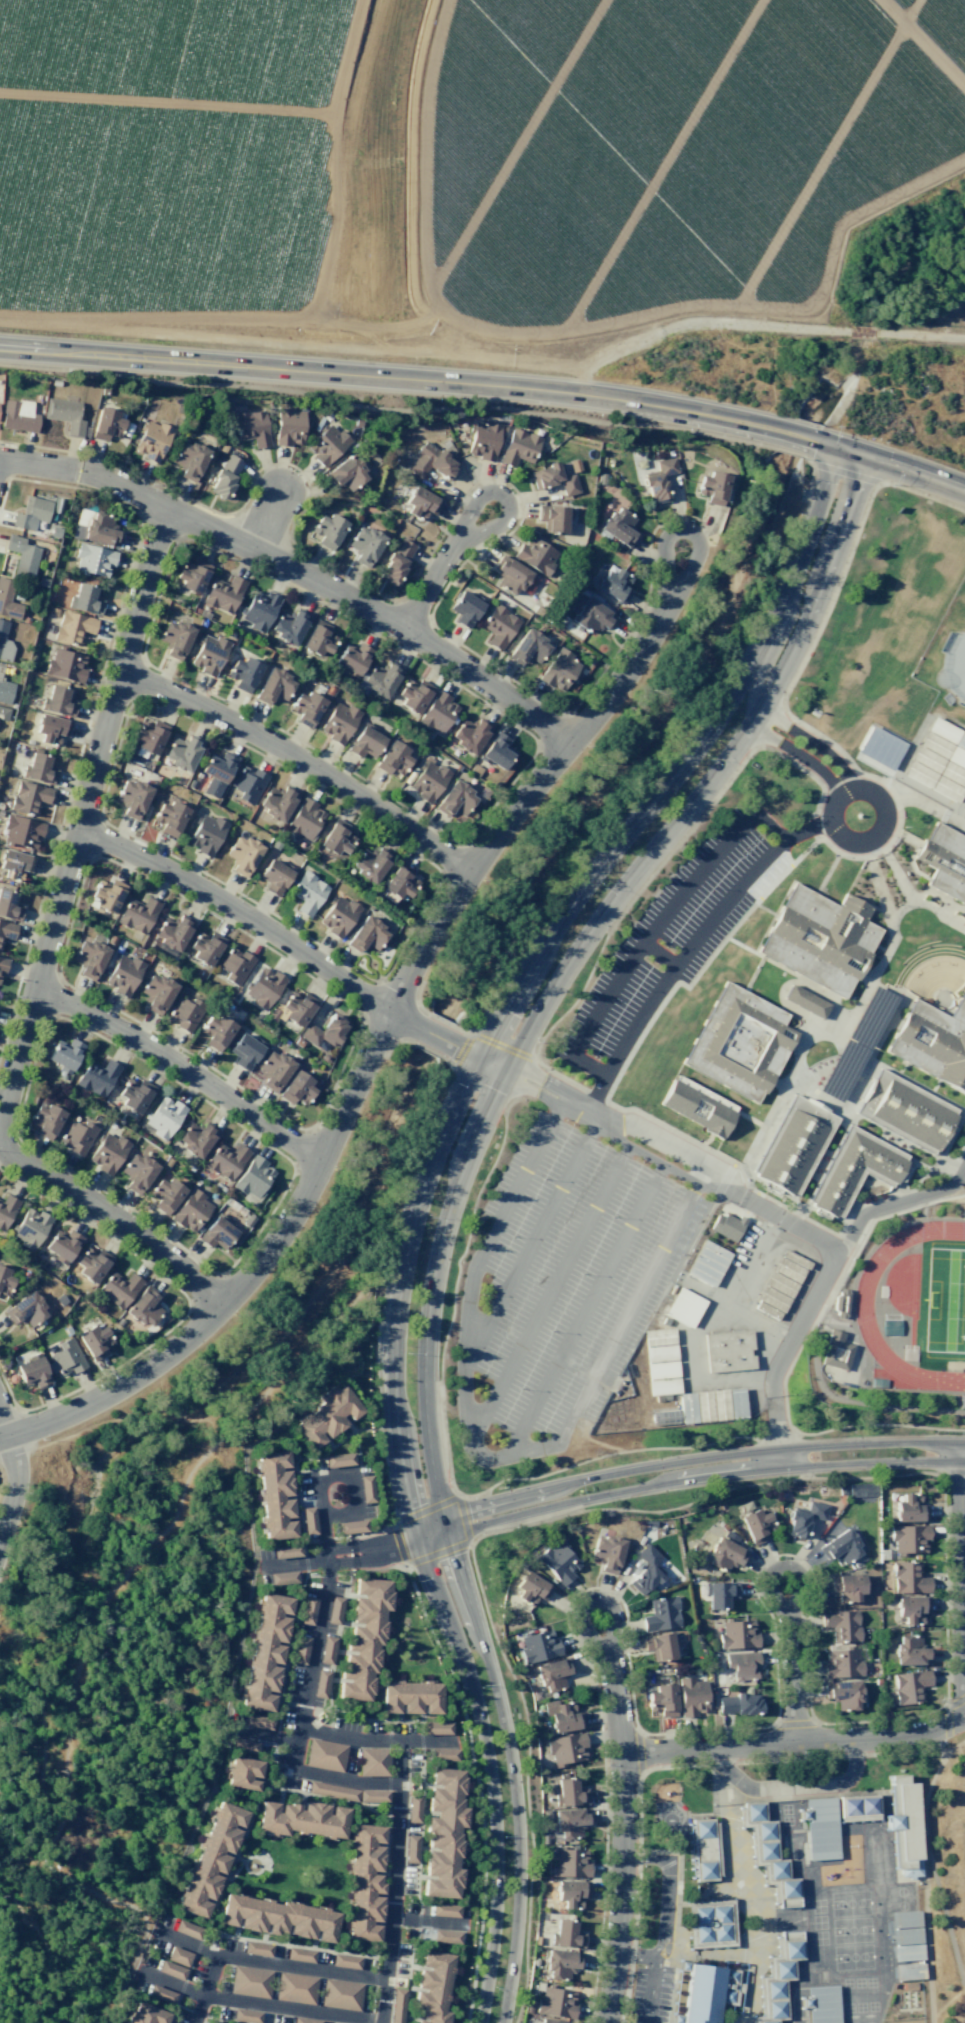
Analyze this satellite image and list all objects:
crop: (669, 153)
crop: (164, 161)
crop: (961, 319)
road: (488, 384)
building: (65, 415)
building: (18, 416)
building: (106, 424)
building: (288, 426)
building: (251, 427)
building: (151, 440)
building: (484, 440)
building: (326, 444)
building: (518, 447)
traffic signals: (854, 453)
building: (189, 459)
road: (36, 462)
building: (431, 462)
building: (346, 473)
building: (224, 477)
building: (553, 479)
building: (659, 480)
building: (713, 487)
building: (421, 504)
building: (31, 513)
building: (552, 518)
road: (267, 519)
building: (80, 524)
building: (619, 526)
building: (100, 529)
building: (328, 530)
building: (364, 545)
road: (849, 551)
building: (22, 555)
building: (536, 555)
building: (93, 560)
building: (396, 561)
road: (444, 563)
building: (510, 575)
building: (192, 576)
building: (614, 584)
road: (334, 590)
building: (223, 594)
building: (86, 599)
building: (8, 600)
building: (464, 609)
building: (259, 610)
building: (591, 616)
building: (289, 626)
building: (499, 626)
building: (73, 627)
building: (174, 638)
building: (318, 639)
building: (4, 643)
building: (528, 648)
building: (208, 654)
building: (352, 659)
park: (951, 659)
building: (65, 665)
building: (0, 670)
building: (558, 670)
building: (243, 673)
building: (380, 679)
building: (273, 686)
building: (5, 691)
building: (413, 695)
building: (58, 701)
building: (306, 708)
building: (438, 712)
building: (3, 713)
building: (338, 722)
building: (51, 729)
road: (919, 730)
building: (943, 731)
building: (469, 735)
building: (148, 736)
building: (961, 741)
building: (365, 742)
road: (813, 744)
building: (935, 745)
building: (880, 747)
building: (496, 751)
building: (181, 752)
road: (305, 757)
road: (797, 757)
building: (957, 757)
building: (393, 758)
building: (927, 760)
building: (39, 768)
building: (216, 772)
building: (919, 774)
building: (953, 774)
building: (427, 780)
building: (247, 783)
building: (947, 789)
building: (131, 797)
building: (29, 798)
road: (914, 799)
building: (455, 800)
building: (276, 802)
road: (882, 805)
road: (959, 811)
building: (168, 816)
building: (304, 820)
building: (21, 831)
road: (808, 831)
building: (205, 834)
building: (336, 840)
road: (892, 840)
building: (242, 854)
building: (944, 861)
building: (14, 863)
building: (369, 864)
road: (896, 869)
road: (828, 874)
building: (274, 877)
road: (878, 882)
building: (400, 883)
building: (307, 893)
building: (106, 895)
building: (9, 905)
road: (751, 910)
road: (766, 910)
road: (900, 910)
building: (137, 914)
road: (939, 914)
building: (338, 916)
road: (653, 926)
building: (6, 930)
building: (172, 932)
building: (367, 935)
building: (821, 939)
road: (296, 943)
building: (204, 947)
road: (45, 955)
road: (657, 955)
building: (89, 958)
building: (2, 965)
building: (235, 965)
road: (676, 965)
road: (791, 974)
building: (122, 975)
road: (754, 975)
building: (263, 987)
building: (156, 993)
building: (805, 1001)
building: (297, 1009)
building: (185, 1014)
road: (816, 1029)
building: (216, 1031)
building: (324, 1031)
road: (382, 1035)
road: (642, 1035)
building: (933, 1042)
building: (740, 1044)
building: (244, 1051)
building: (64, 1055)
road: (183, 1065)
road: (902, 1068)
road: (508, 1069)
building: (273, 1070)
building: (97, 1077)
road: (902, 1077)
road: (935, 1087)
building: (297, 1089)
building: (134, 1095)
building: (698, 1107)
road: (584, 1112)
building: (907, 1112)
building: (163, 1117)
building: (44, 1120)
road: (839, 1128)
road: (675, 1132)
building: (77, 1137)
building: (195, 1138)
building: (794, 1146)
building: (108, 1153)
building: (226, 1160)
building: (856, 1171)
building: (137, 1172)
building: (253, 1177)
road: (425, 1185)
road: (454, 1189)
building: (166, 1195)
road: (897, 1203)
building: (6, 1210)
building: (191, 1211)
building: (728, 1226)
building: (30, 1228)
building: (217, 1233)
road: (529, 1244)
building: (62, 1246)
building: (795, 1259)
building: (91, 1263)
building: (708, 1263)
building: (788, 1270)
building: (4, 1281)
building: (780, 1284)
road: (822, 1285)
building: (118, 1288)
road: (549, 1295)
building: (772, 1299)
park: (946, 1301)
building: (841, 1304)
building: (144, 1307)
track: (863, 1307)
building: (685, 1308)
building: (25, 1310)
building: (767, 1310)
road: (586, 1311)
building: (659, 1337)
building: (94, 1341)
building: (728, 1351)
building: (836, 1351)
building: (660, 1353)
building: (66, 1357)
building: (662, 1371)
building: (32, 1372)
building: (664, 1387)
building: (737, 1403)
building: (720, 1405)
building: (704, 1407)
building: (687, 1408)
building: (326, 1416)
park: (255, 1419)
road: (3, 1425)
building: (338, 1459)
road: (482, 1461)
road: (684, 1462)
road: (688, 1479)
road: (15, 1487)
building: (366, 1488)
building: (840, 1489)
road: (354, 1493)
building: (275, 1495)
building: (909, 1508)
building: (803, 1518)
building: (308, 1520)
building: (756, 1525)
building: (351, 1526)
building: (908, 1538)
building: (839, 1547)
building: (286, 1551)
road: (470, 1551)
building: (607, 1553)
building: (724, 1554)
road: (328, 1559)
road: (298, 1562)
building: (557, 1562)
building: (645, 1571)
building: (282, 1577)
building: (909, 1578)
road: (767, 1579)
road: (962, 1579)
building: (846, 1586)
building: (531, 1588)
building: (719, 1594)
road: (760, 1601)
building: (911, 1609)
building: (308, 1610)
building: (334, 1610)
road: (578, 1612)
building: (661, 1613)
building: (841, 1625)
road: (85, 1631)
building: (737, 1634)
building: (363, 1638)
building: (538, 1646)
building: (658, 1646)
building: (327, 1649)
building: (301, 1650)
building: (911, 1650)
building: (266, 1651)
road: (944, 1655)
road: (805, 1659)
building: (841, 1663)
building: (741, 1664)
road: (309, 1674)
building: (551, 1674)
road: (792, 1679)
building: (320, 1683)
building: (909, 1686)
building: (842, 1694)
building: (535, 1695)
building: (691, 1696)
building: (410, 1698)
building: (662, 1700)
building: (740, 1703)
road: (946, 1711)
road: (598, 1712)
building: (560, 1715)
building: (258, 1722)
road: (794, 1723)
building: (436, 1728)
road: (737, 1728)
road: (668, 1732)
road: (376, 1738)
road: (794, 1744)
building: (243, 1745)
building: (565, 1749)
road: (941, 1749)
road: (639, 1752)
building: (443, 1754)
building: (324, 1755)
road: (794, 1759)
building: (372, 1761)
building: (243, 1773)
building: (562, 1775)
road: (791, 1785)
building: (569, 1792)
building: (348, 1793)
building: (857, 1806)
building: (413, 1809)
building: (301, 1818)
building: (570, 1821)
building: (903, 1824)
building: (819, 1828)
building: (443, 1833)
road: (622, 1834)
building: (543, 1839)
building: (703, 1848)
building: (411, 1849)
building: (771, 1854)
building: (211, 1857)
building: (569, 1863)
road: (925, 1874)
road: (392, 1882)
building: (365, 1883)
road: (667, 1889)
building: (571, 1893)
road: (636, 1898)
building: (445, 1910)
road: (944, 1916)
road: (675, 1917)
building: (278, 1918)
building: (904, 1918)
building: (710, 1923)
building: (187, 1929)
building: (566, 1934)
building: (906, 1935)
building: (444, 1936)
building: (537, 1940)
building: (257, 1948)
building: (906, 1952)
building: (300, 1954)
building: (178, 1956)
building: (345, 1961)
road: (271, 1962)
building: (561, 1963)
building: (171, 1970)
road: (652, 1971)
building: (908, 1971)
building: (780, 1976)
building: (249, 1981)
building: (729, 1986)
building: (432, 1987)
building: (295, 1988)
road: (205, 1989)
building: (699, 1993)
building: (340, 1994)
parking lot: (649, 1995)
building: (555, 2002)
road: (260, 2003)
building: (821, 2004)
building: (396, 2006)
building: (528, 2009)
building: (145, 2014)
building: (246, 2016)
building: (304, 2020)
building: (550, 2020)

